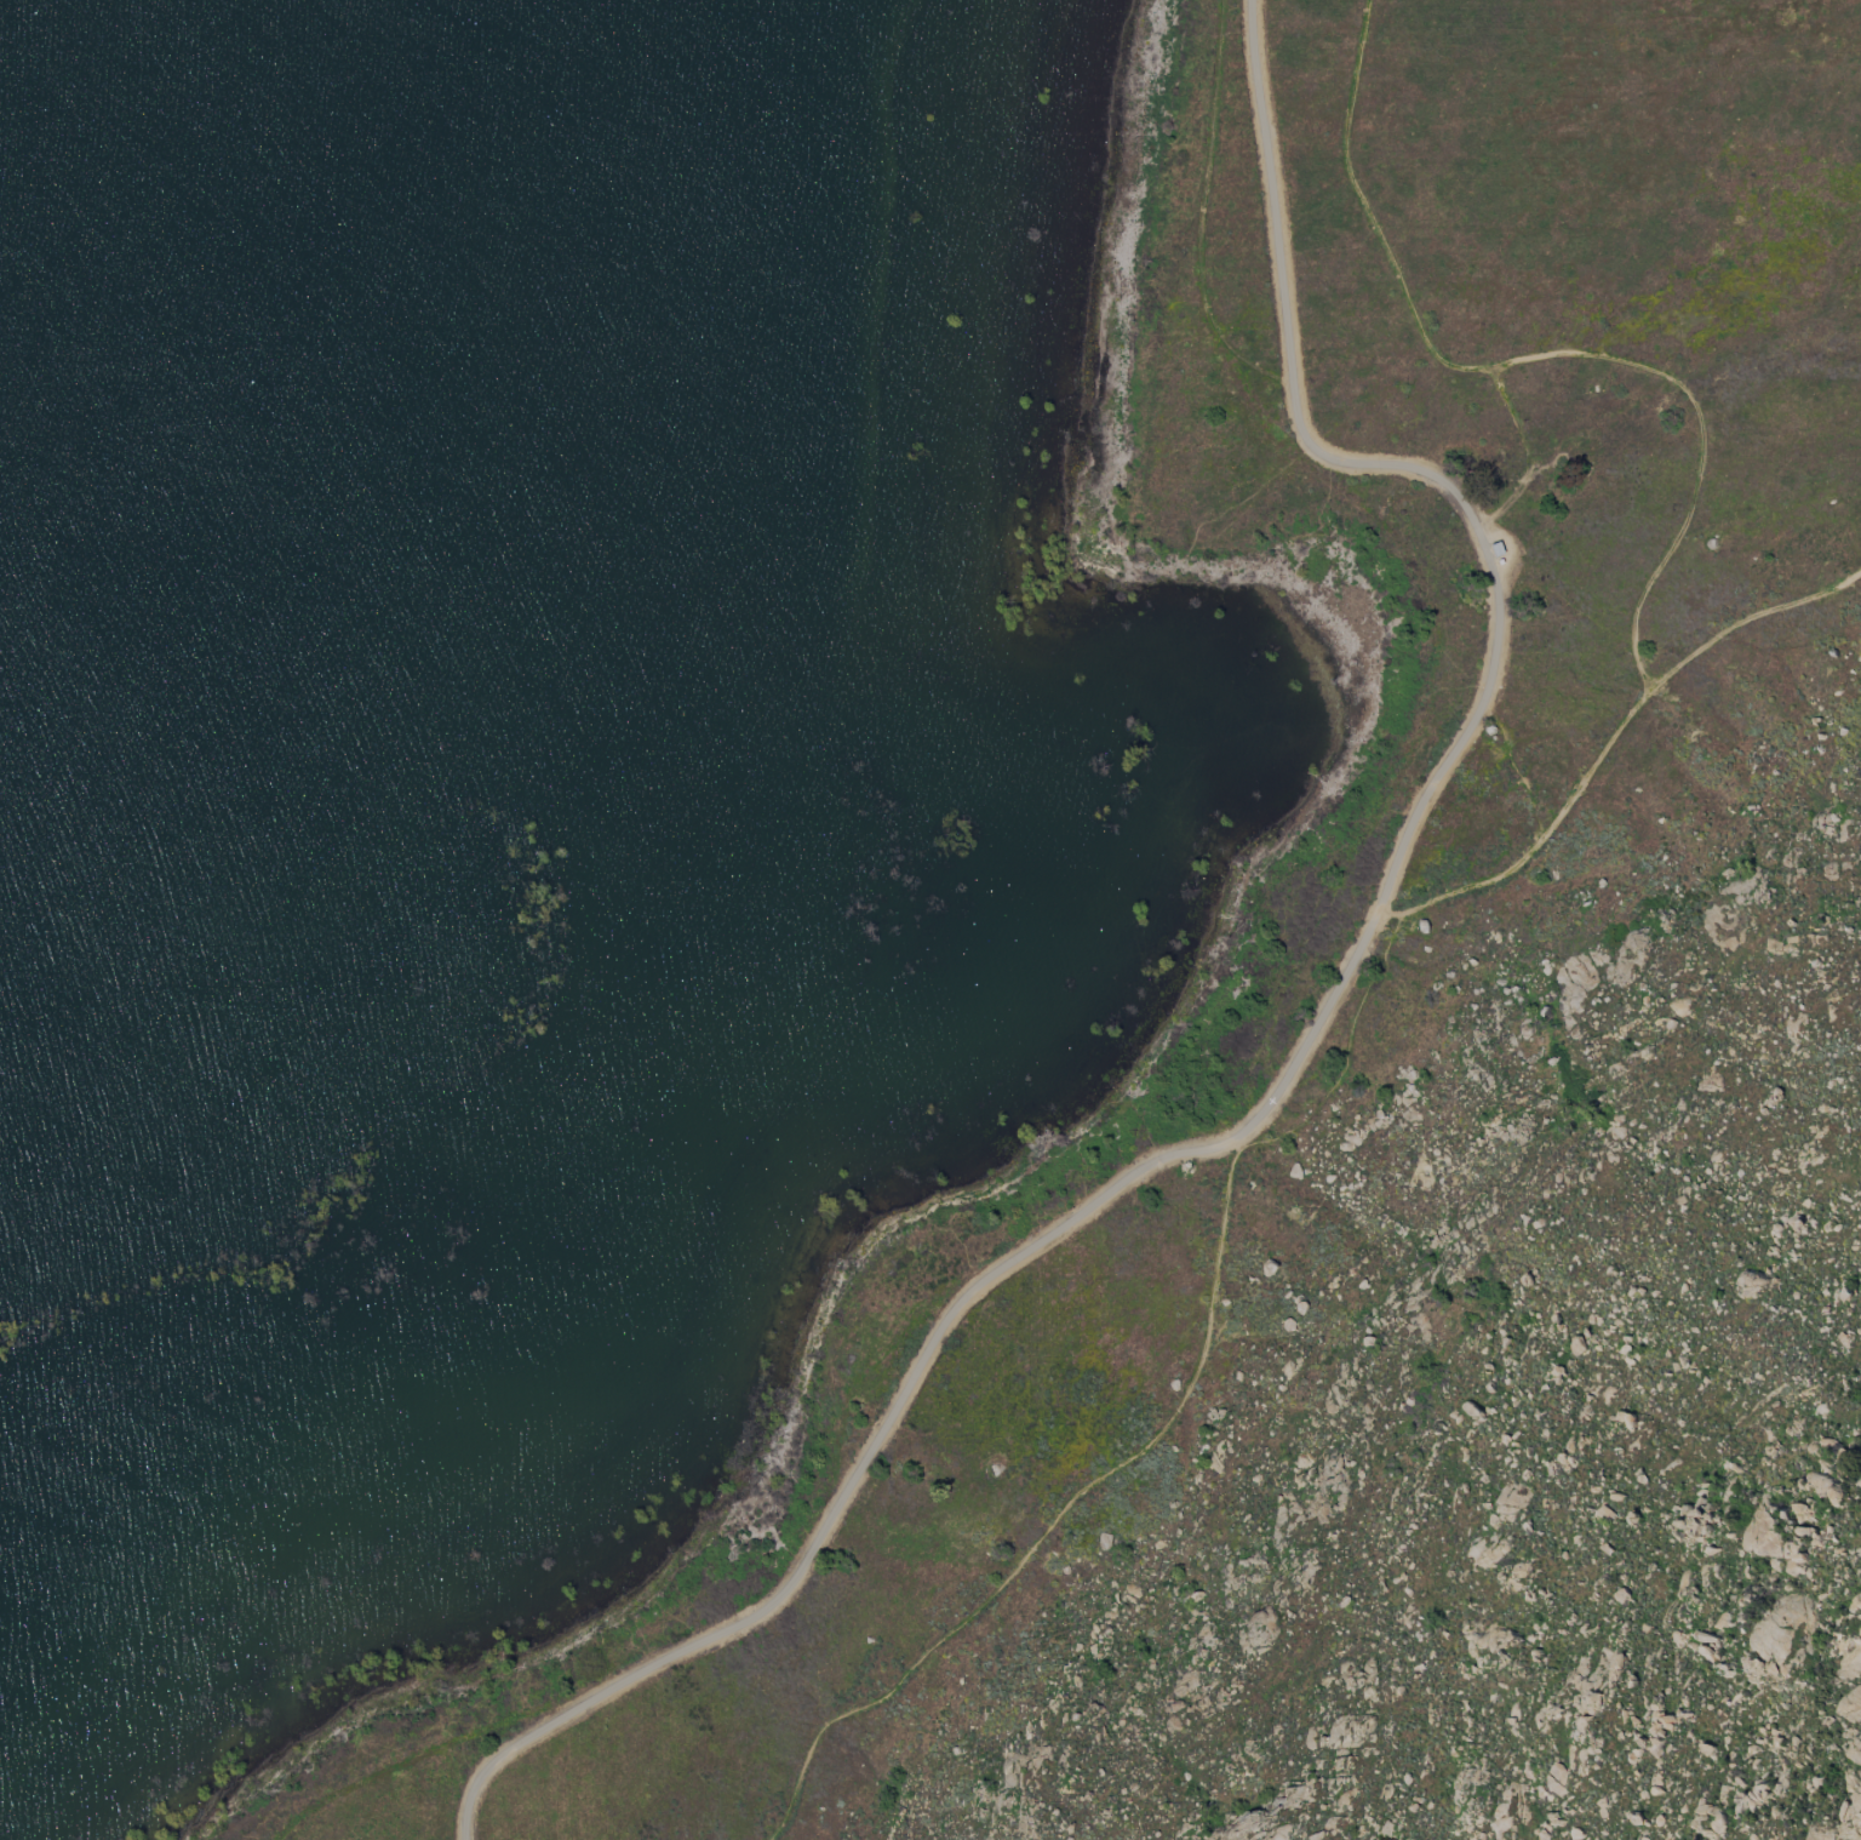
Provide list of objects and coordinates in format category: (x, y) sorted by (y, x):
road: (1531, 359)
road: (1609, 737)
road: (1307, 1039)
road: (1235, 1143)
road: (1180, 1404)

